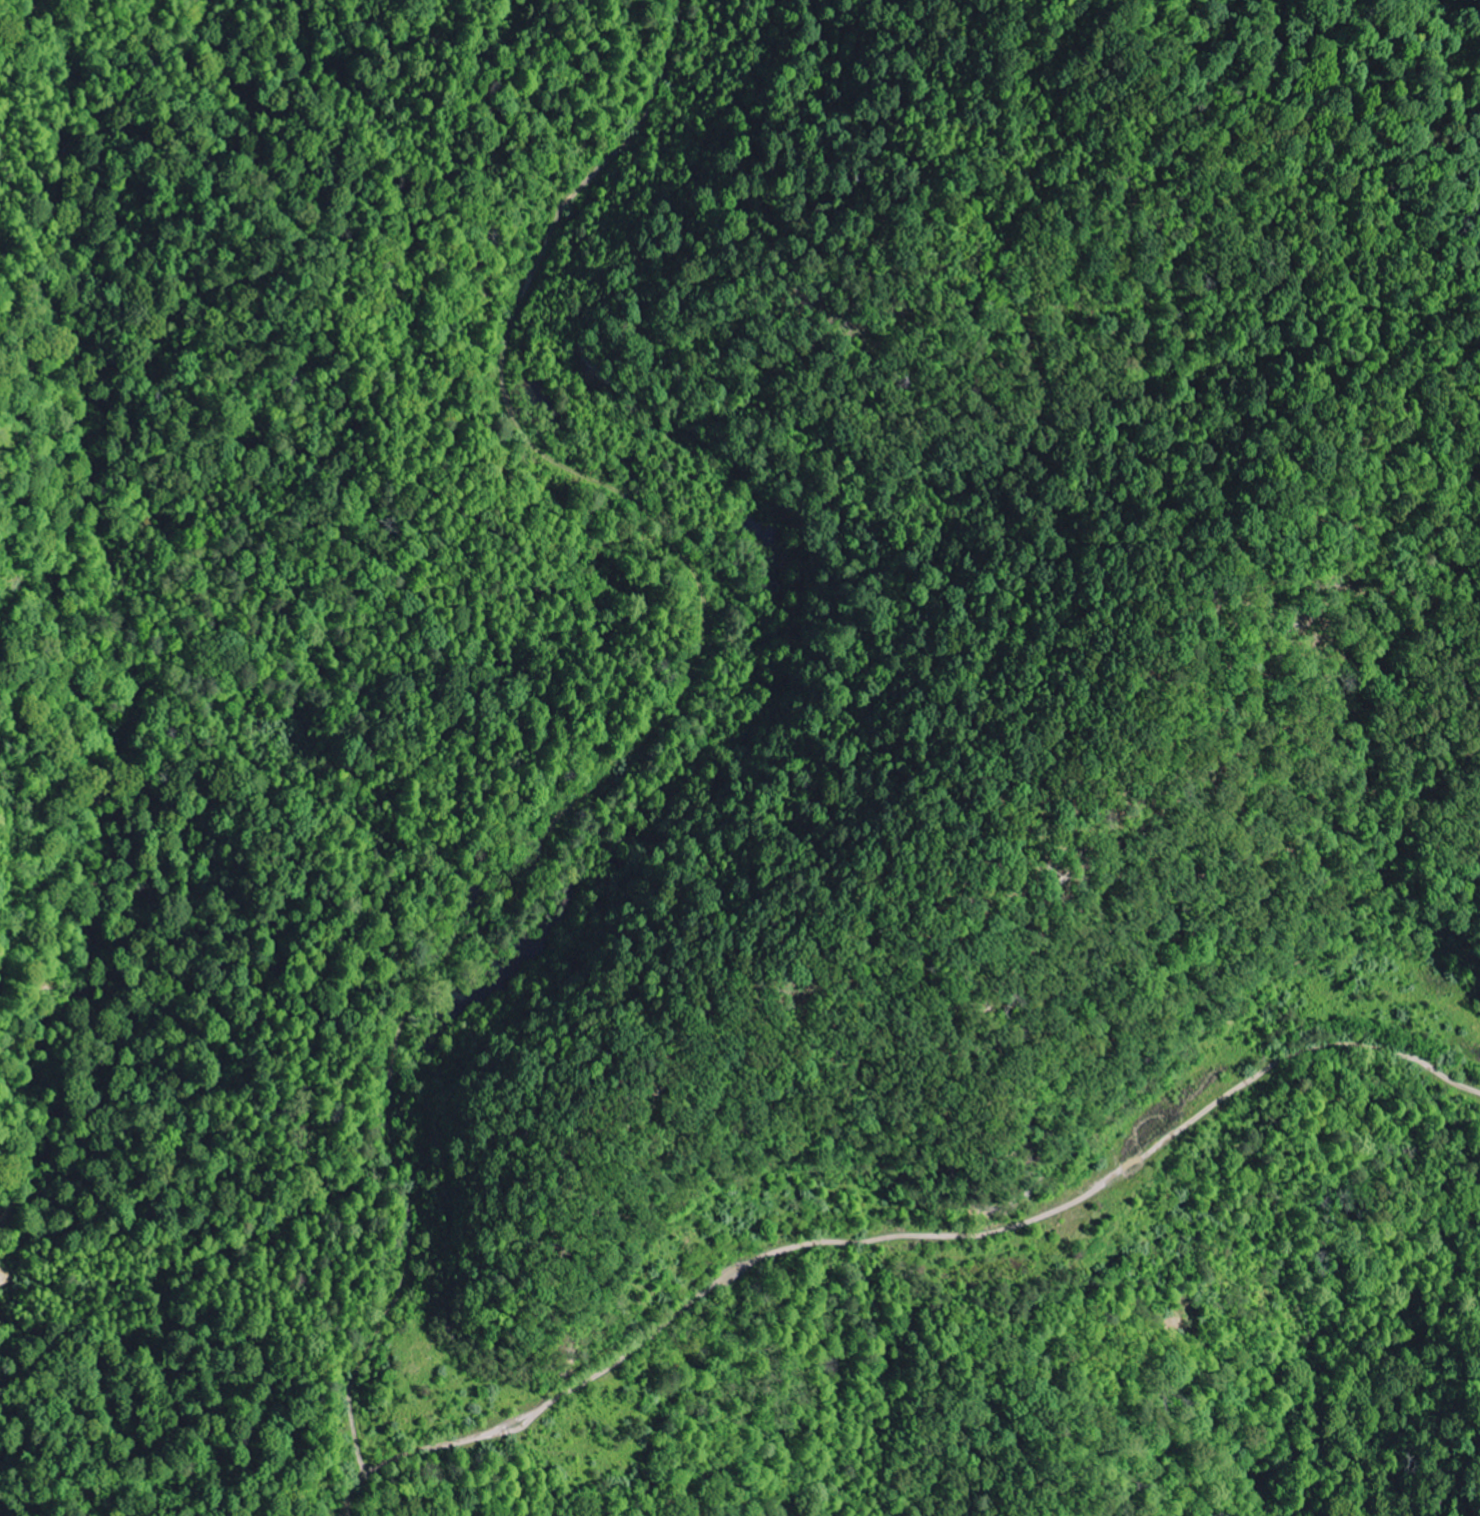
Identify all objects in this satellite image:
road: (14, 66)

